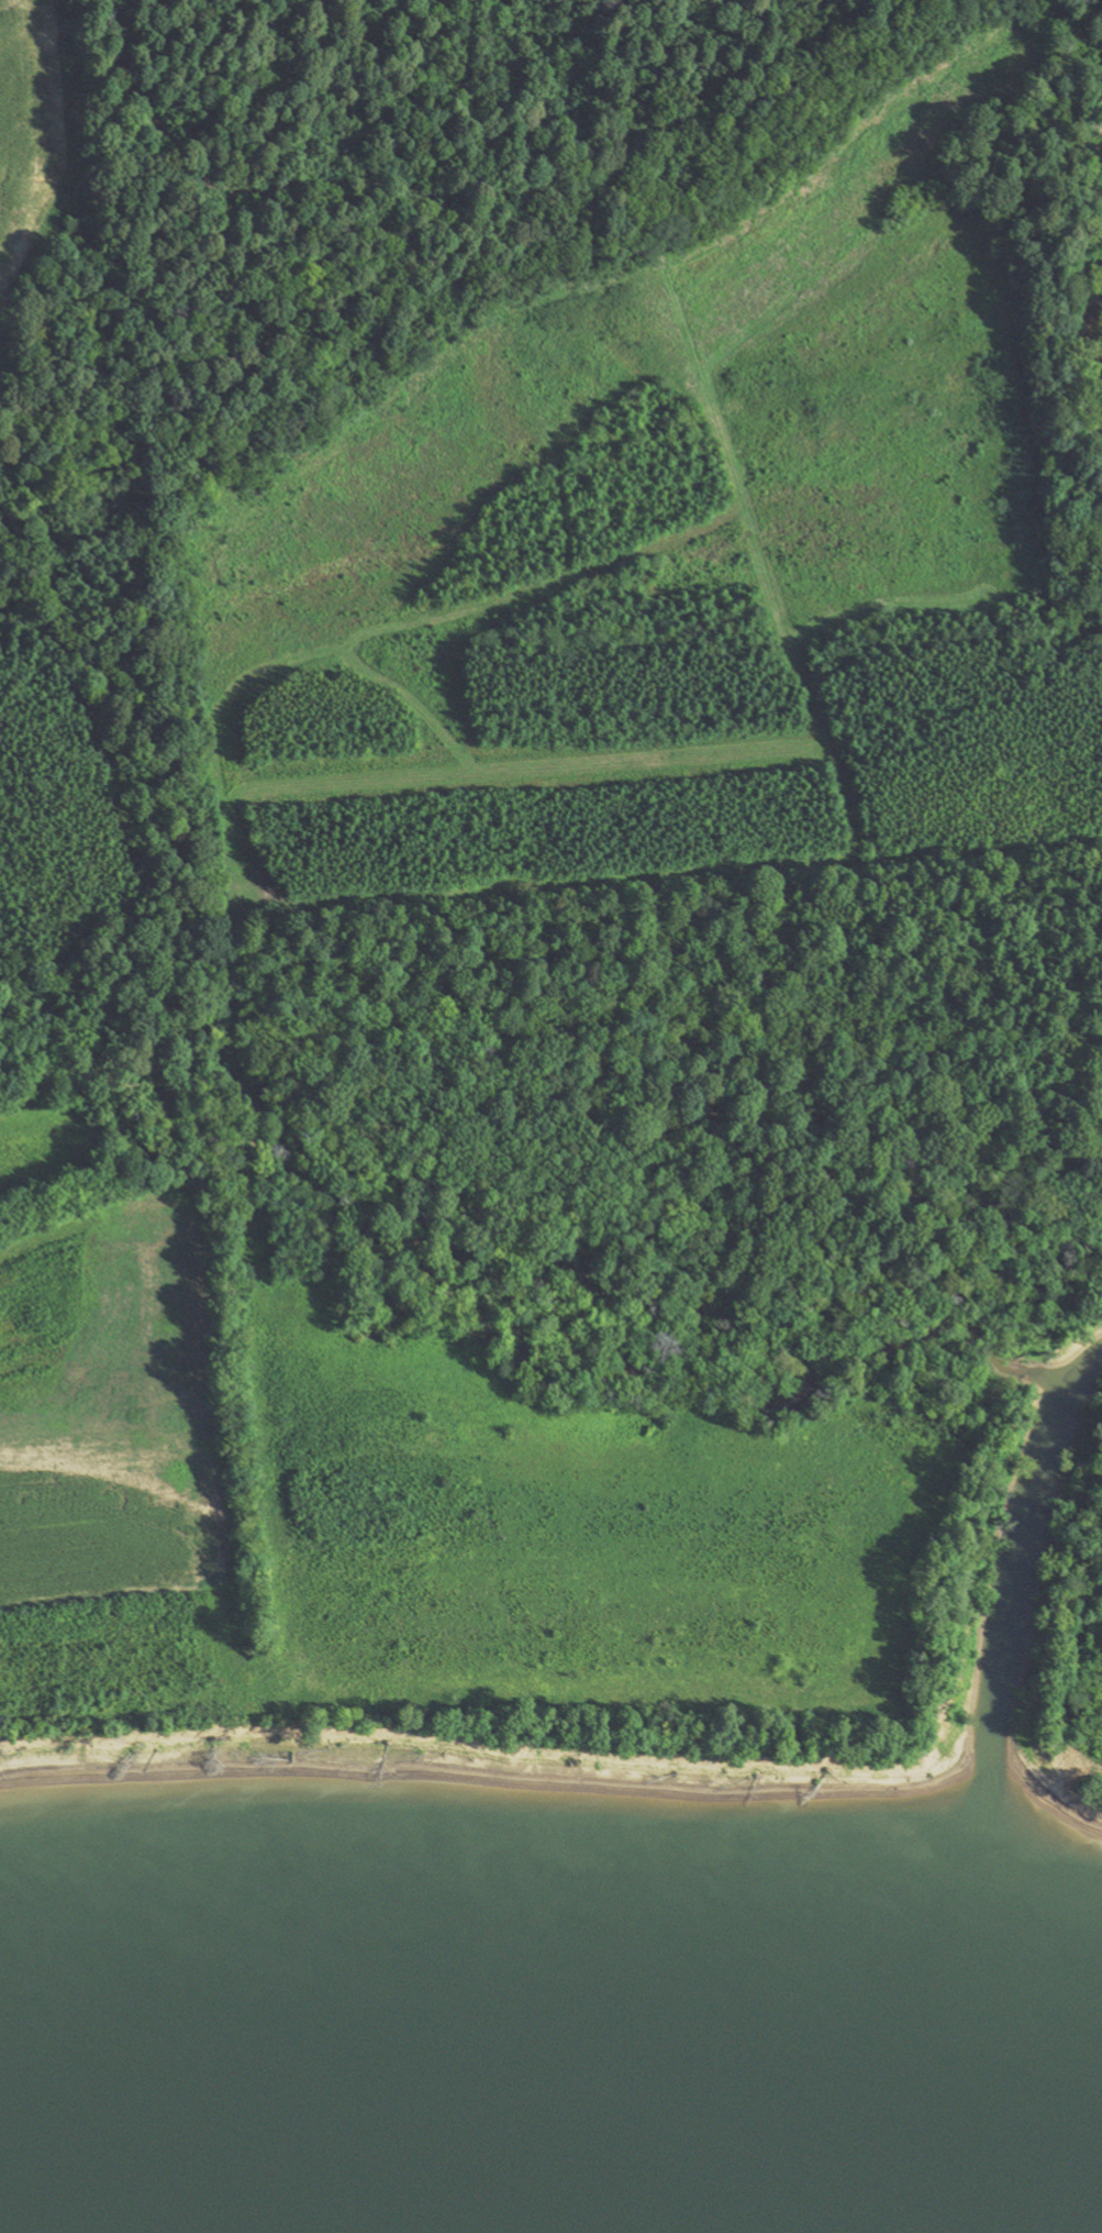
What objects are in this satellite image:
river: (422, 2165)

